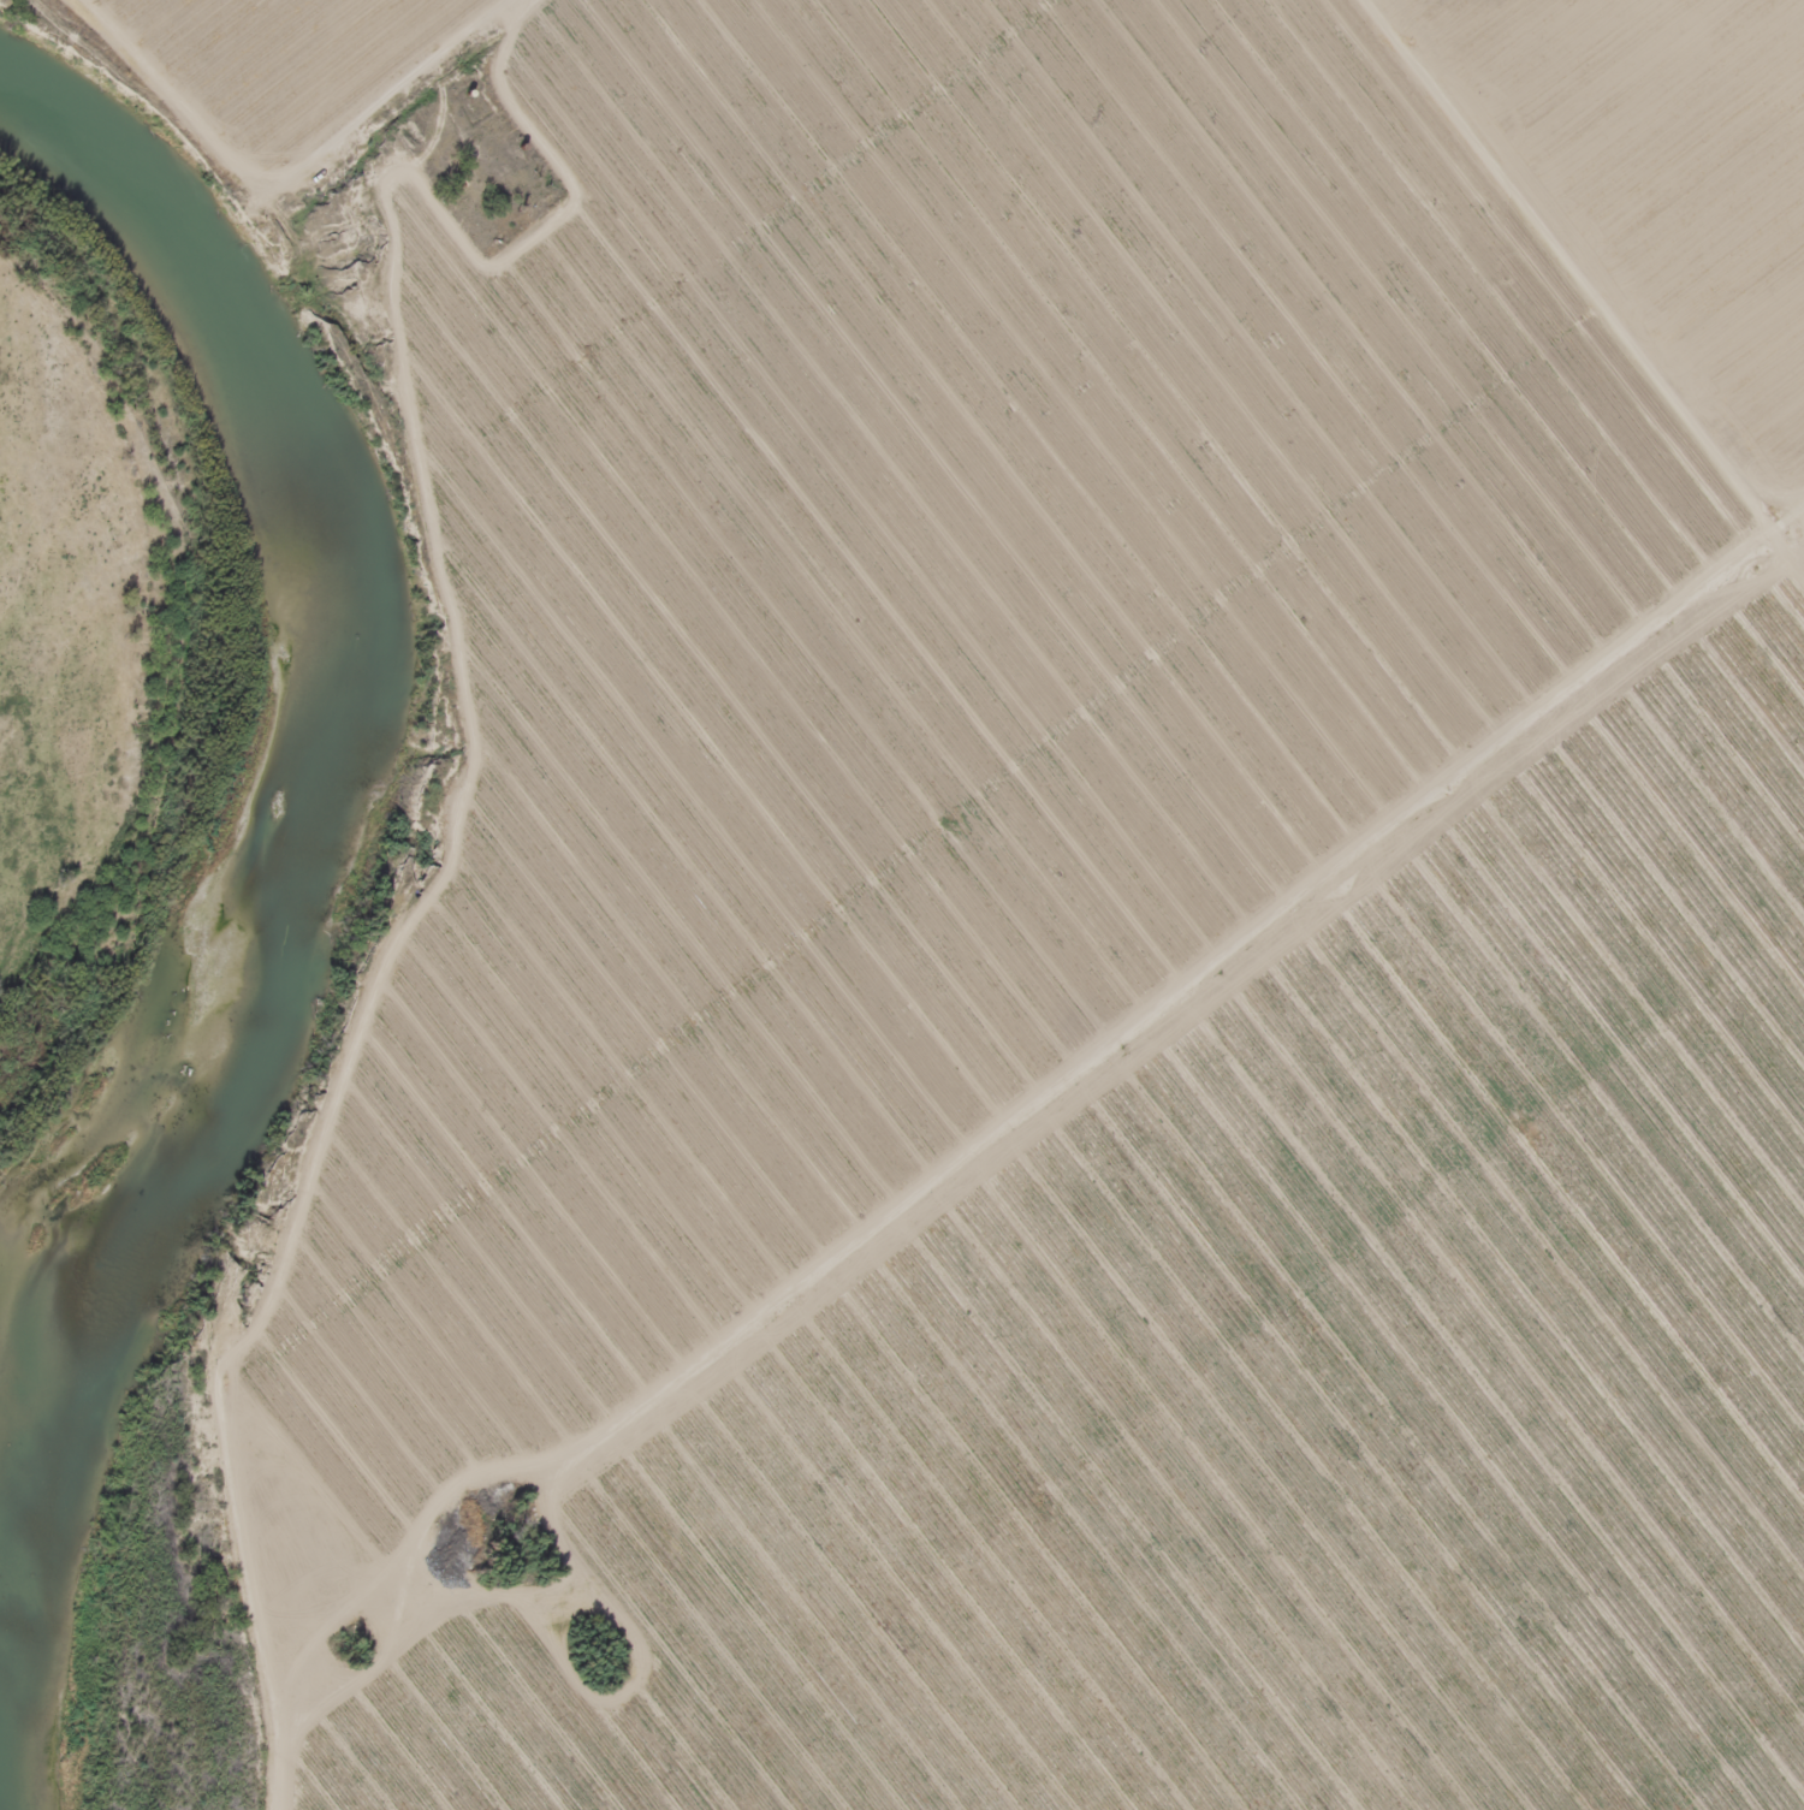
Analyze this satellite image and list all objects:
road: (391, 93)
road: (433, 839)
river: (195, 950)

